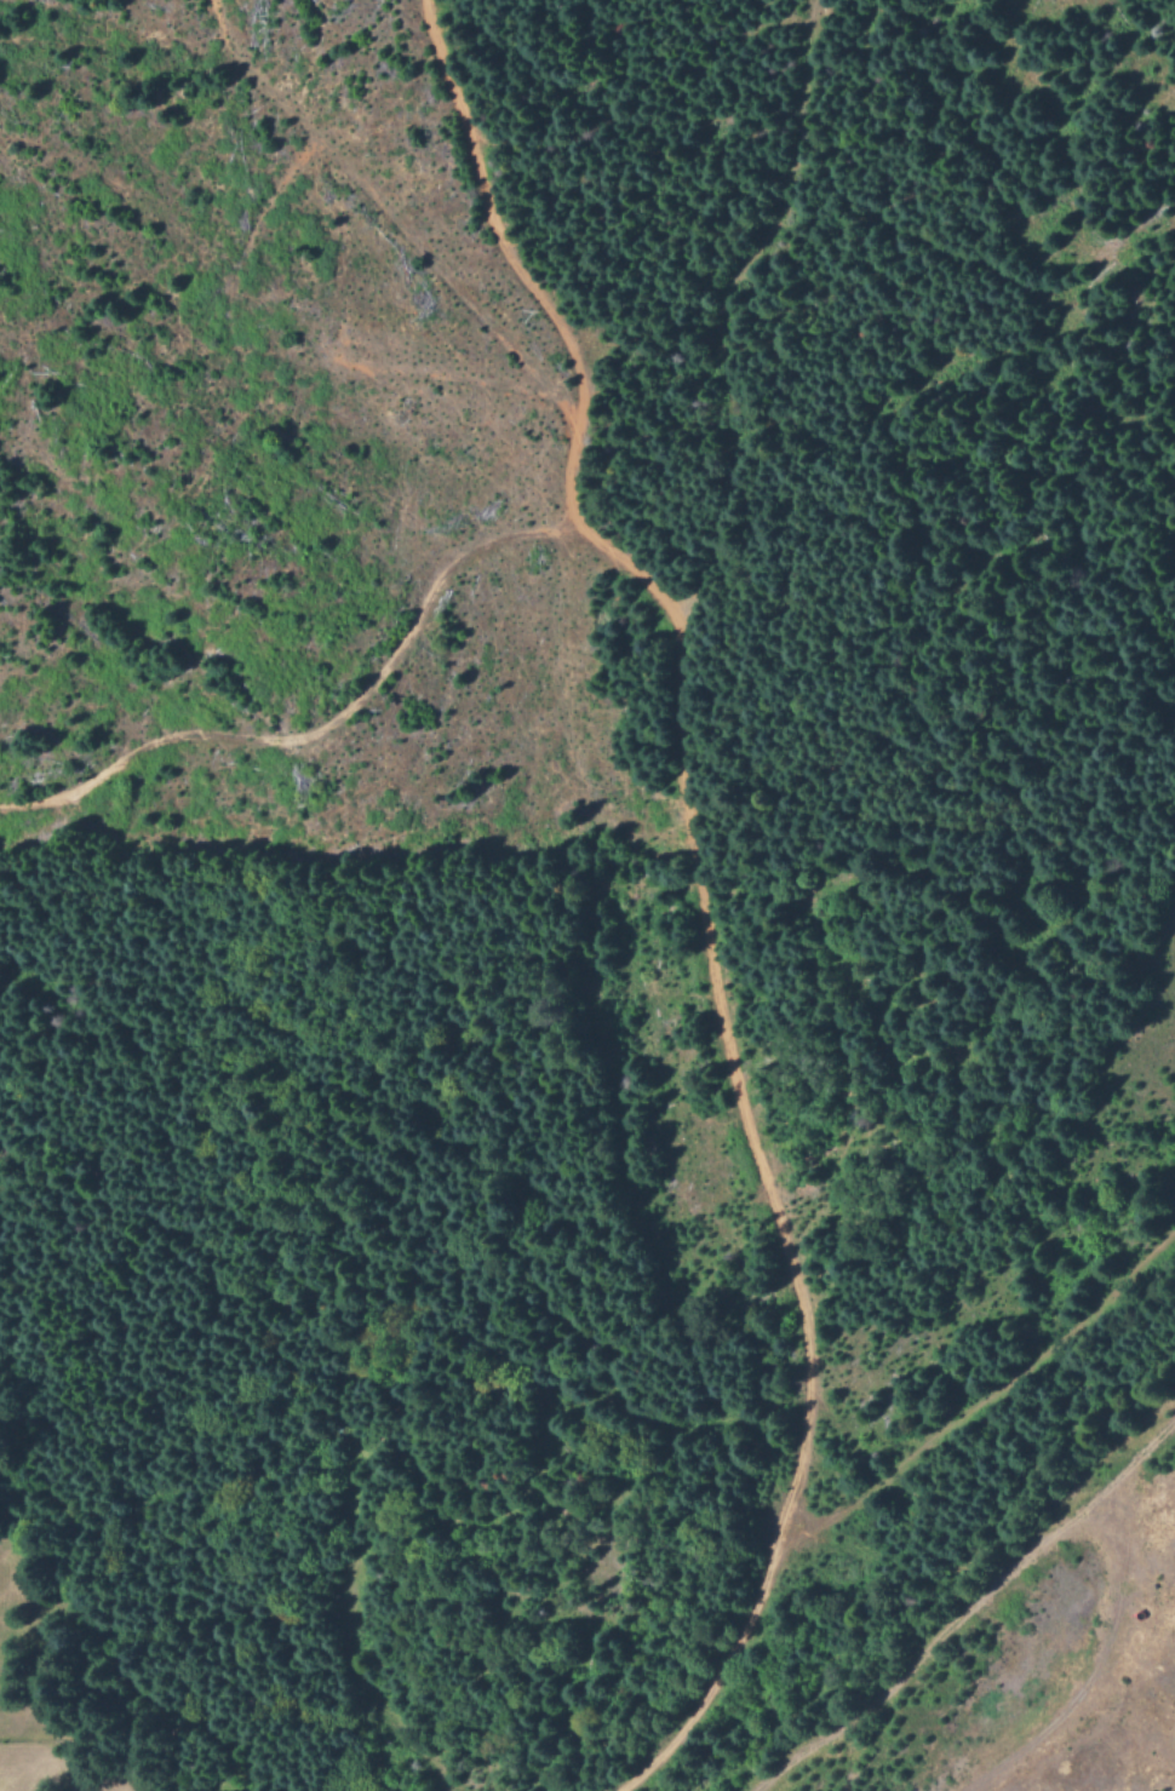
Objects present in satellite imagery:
road: (693, 888)
road: (1061, 1712)

